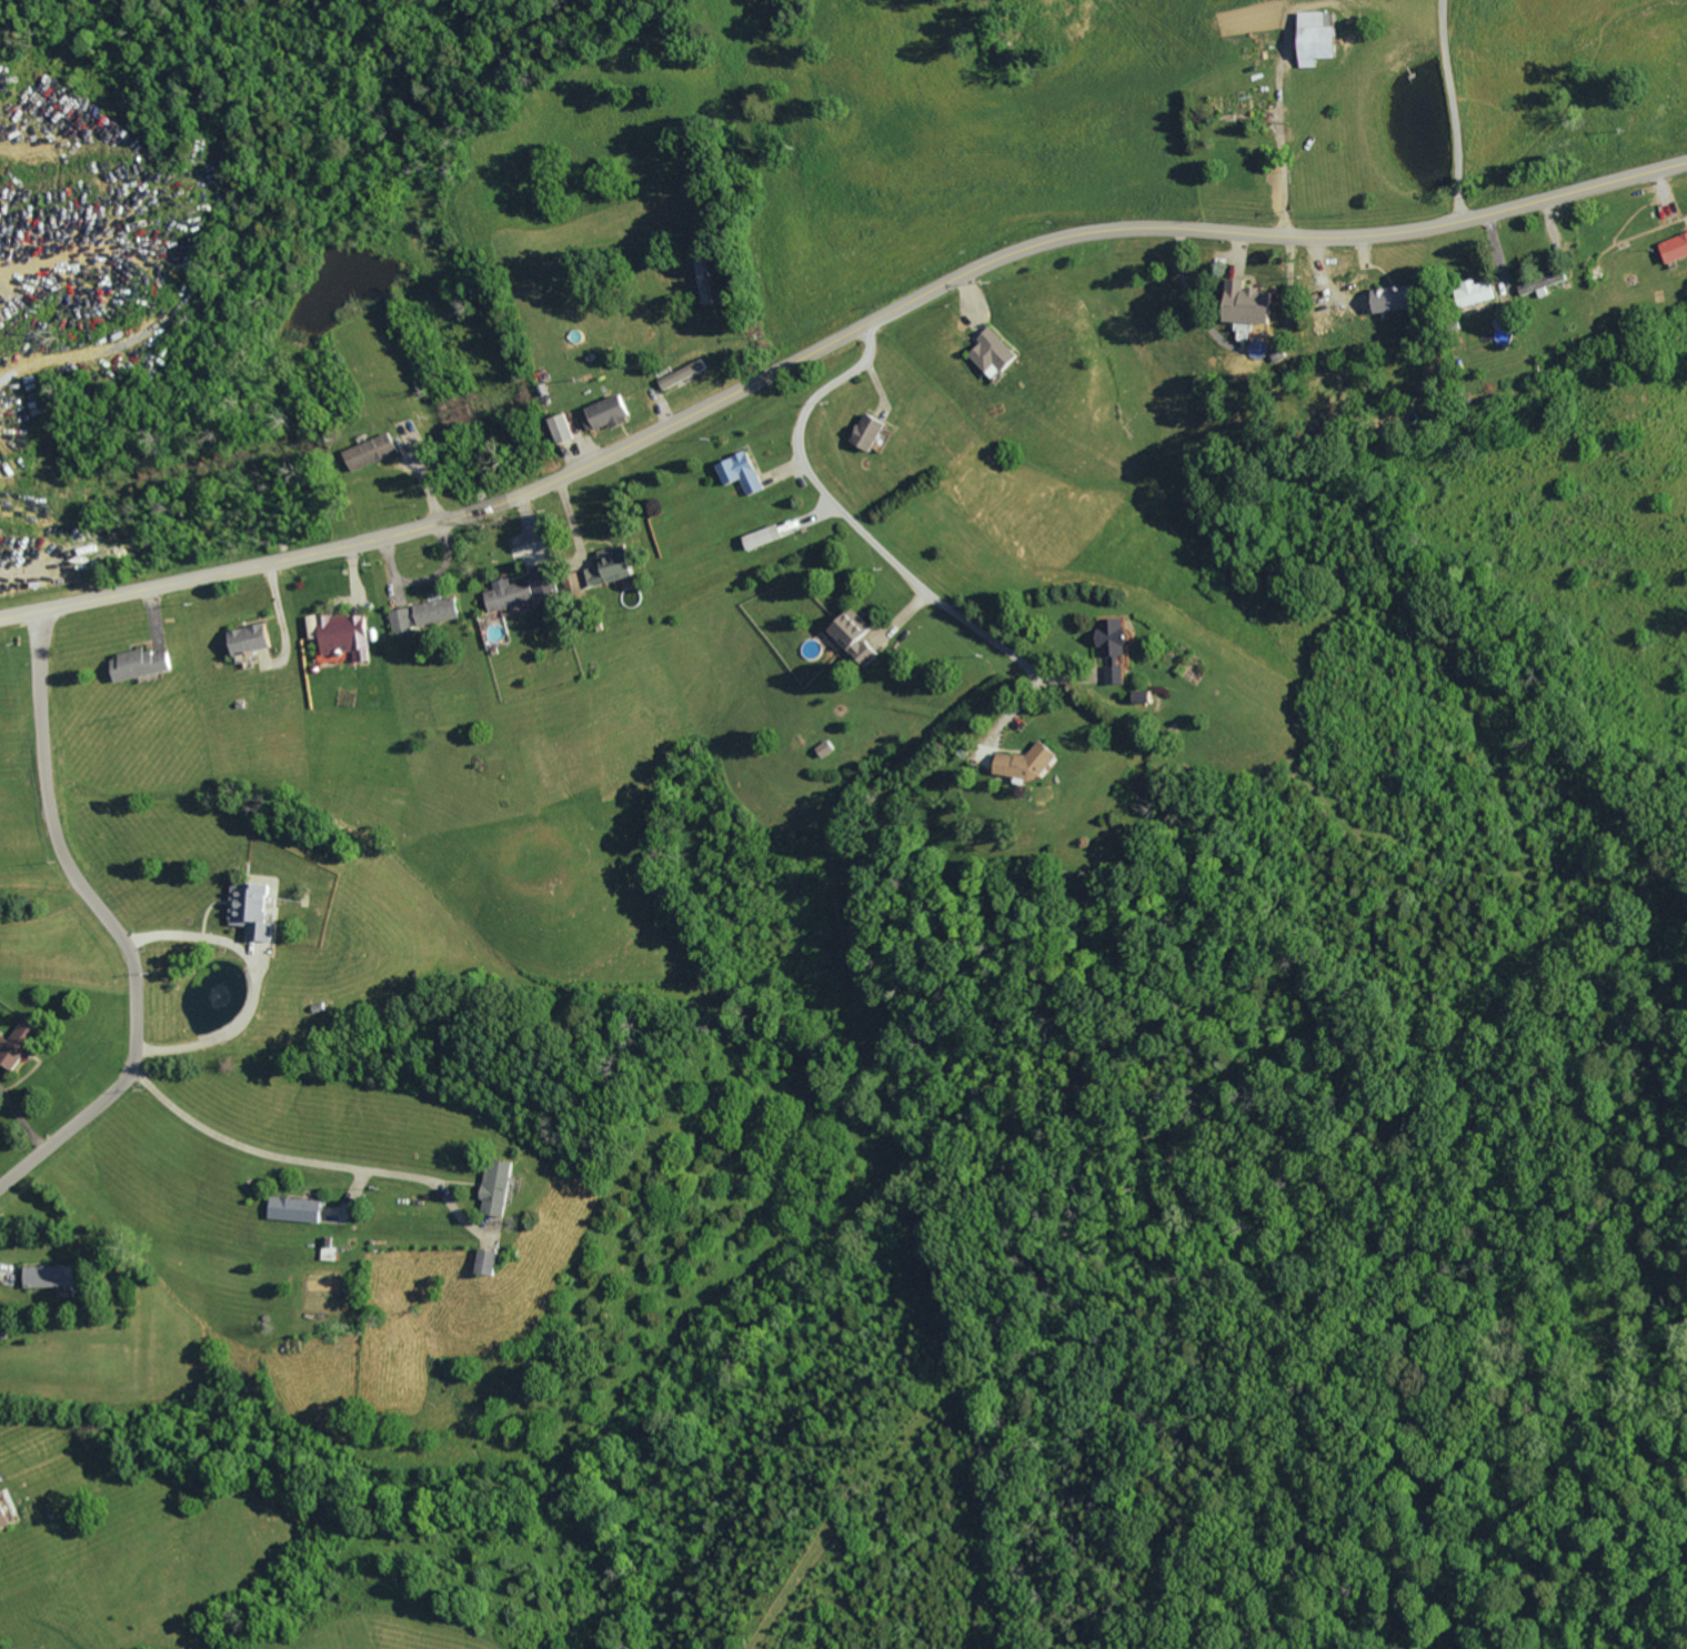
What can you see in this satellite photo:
road: (1457, 110)
road: (1282, 135)
building: (1678, 249)
building: (1482, 293)
building: (1403, 299)
building: (1258, 304)
road: (834, 341)
building: (1000, 354)
building: (685, 373)
building: (614, 413)
building: (562, 428)
building: (875, 432)
building: (376, 450)
building: (746, 473)
building: (767, 537)
road: (887, 552)
building: (617, 566)
road: (1644, 575)
building: (548, 581)
building: (441, 612)
building: (405, 621)
building: (347, 633)
building: (862, 637)
building: (257, 640)
building: (1117, 650)
building: (145, 664)
building: (831, 748)
building: (1032, 764)
building: (259, 911)
road: (116, 923)
road: (260, 982)
building: (22, 1045)
road: (307, 1162)
building: (501, 1187)
building: (301, 1208)
building: (492, 1261)
building: (56, 1275)
building: (8, 1512)

